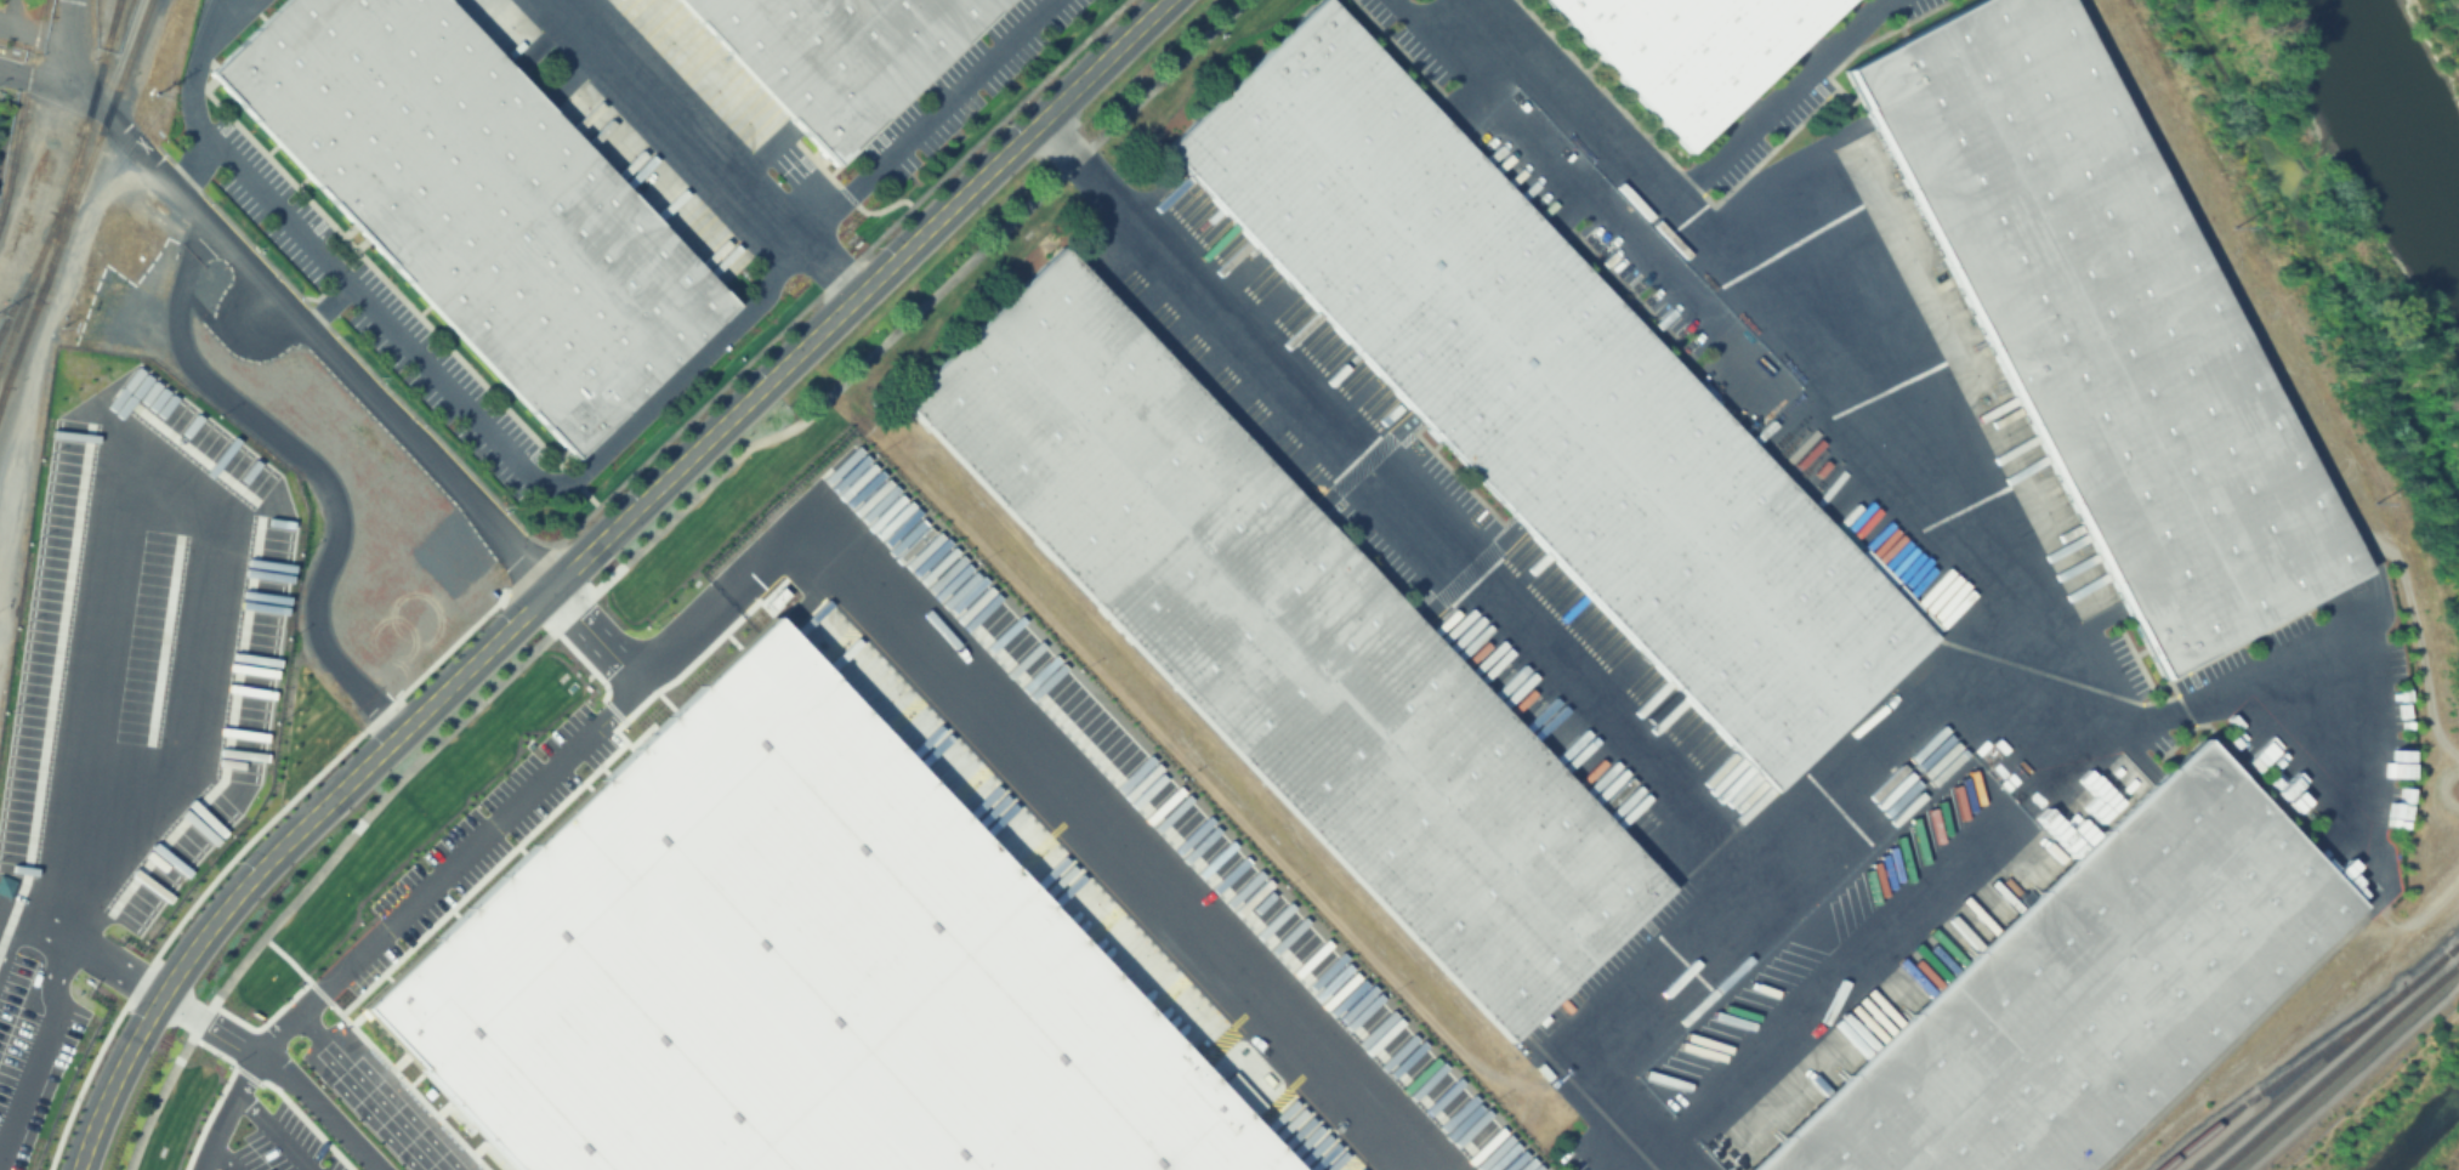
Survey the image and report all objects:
railway: (115, 7)
road: (17, 13)
railway: (110, 23)
road: (33, 30)
building: (1691, 51)
building: (831, 58)
road: (192, 66)
road: (46, 78)
road: (1583, 100)
road: (1782, 100)
railway: (23, 108)
road: (681, 118)
railway: (97, 135)
road: (897, 146)
road: (260, 189)
railway: (63, 192)
building: (471, 204)
railway: (61, 216)
road: (861, 295)
railway: (21, 299)
road: (283, 308)
road: (915, 316)
building: (2129, 326)
railway: (23, 330)
railway: (2, 387)
building: (1546, 388)
road: (314, 467)
road: (555, 484)
road: (840, 526)
road: (218, 530)
road: (553, 634)
road: (608, 643)
building: (1285, 643)
road: (2177, 706)
road: (2062, 765)
road: (1717, 848)
road: (277, 851)
road: (302, 892)
road: (1855, 970)
building: (789, 973)
road: (52, 987)
building: (2083, 989)
road: (1617, 1029)
railway: (2325, 1057)
railway: (2340, 1067)
railway: (2281, 1079)
road: (2372, 1087)
road: (379, 1096)
road: (239, 1113)
road: (323, 1115)
road: (278, 1136)
road: (226, 1165)

